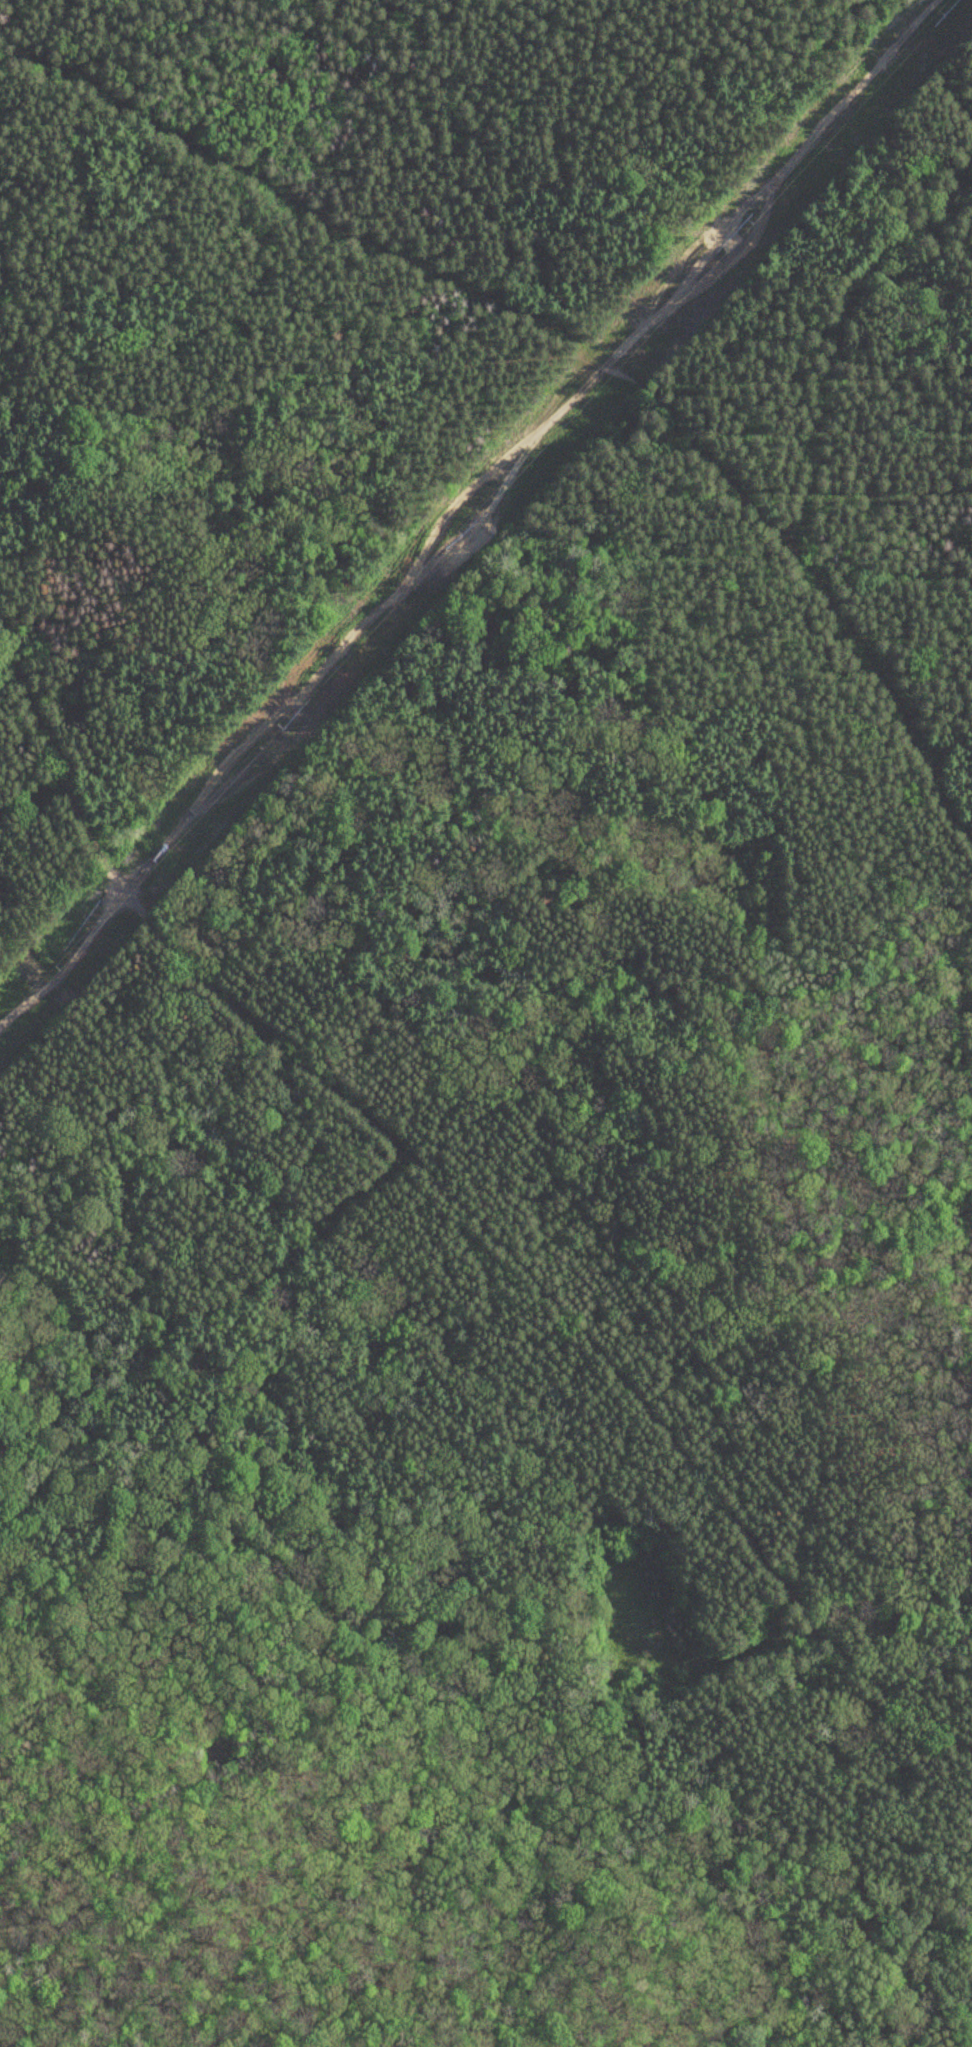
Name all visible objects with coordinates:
road: (97, 13)
road: (221, 37)
road: (696, 56)
road: (714, 460)
road: (919, 644)
park: (486, 1023)
road: (472, 1195)

